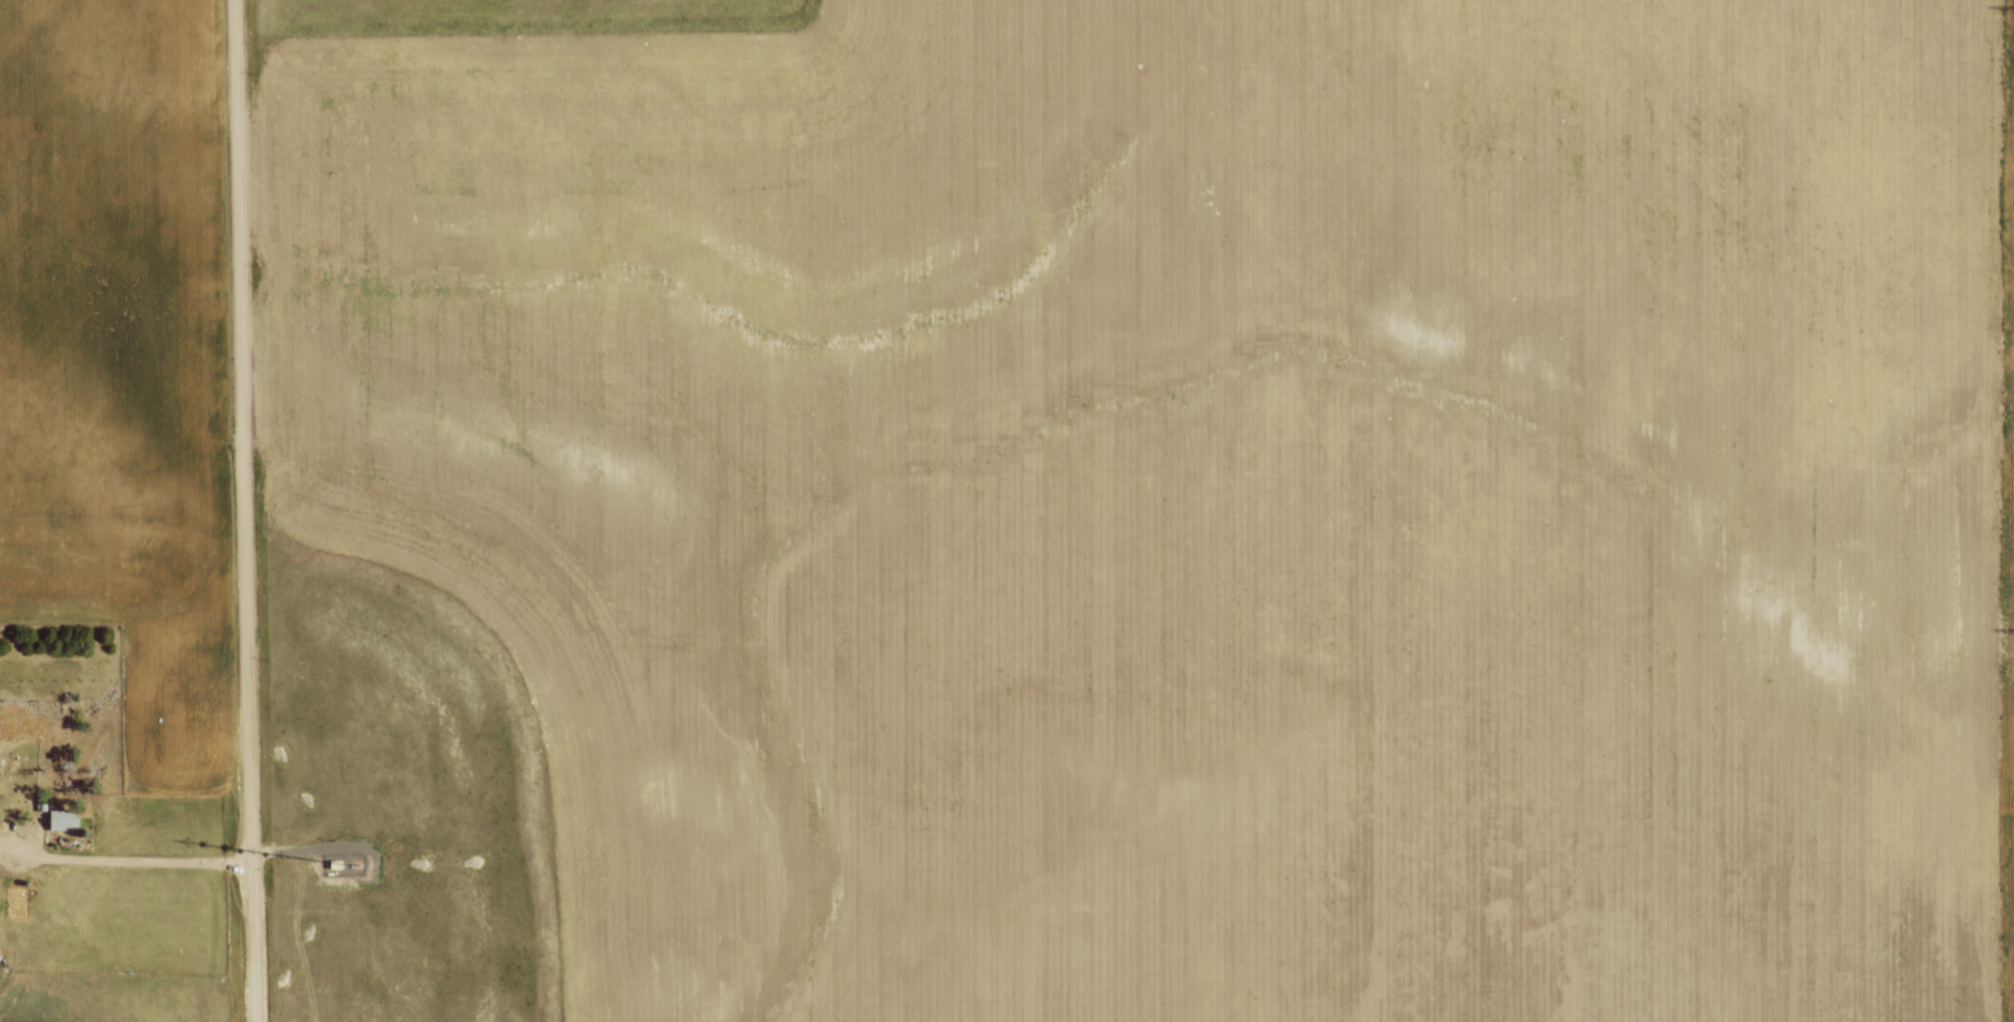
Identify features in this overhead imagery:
crop: (113, 359)
crop: (1200, 494)
road: (242, 511)
building: (40, 802)
building: (57, 823)
road: (297, 848)
road: (121, 866)

